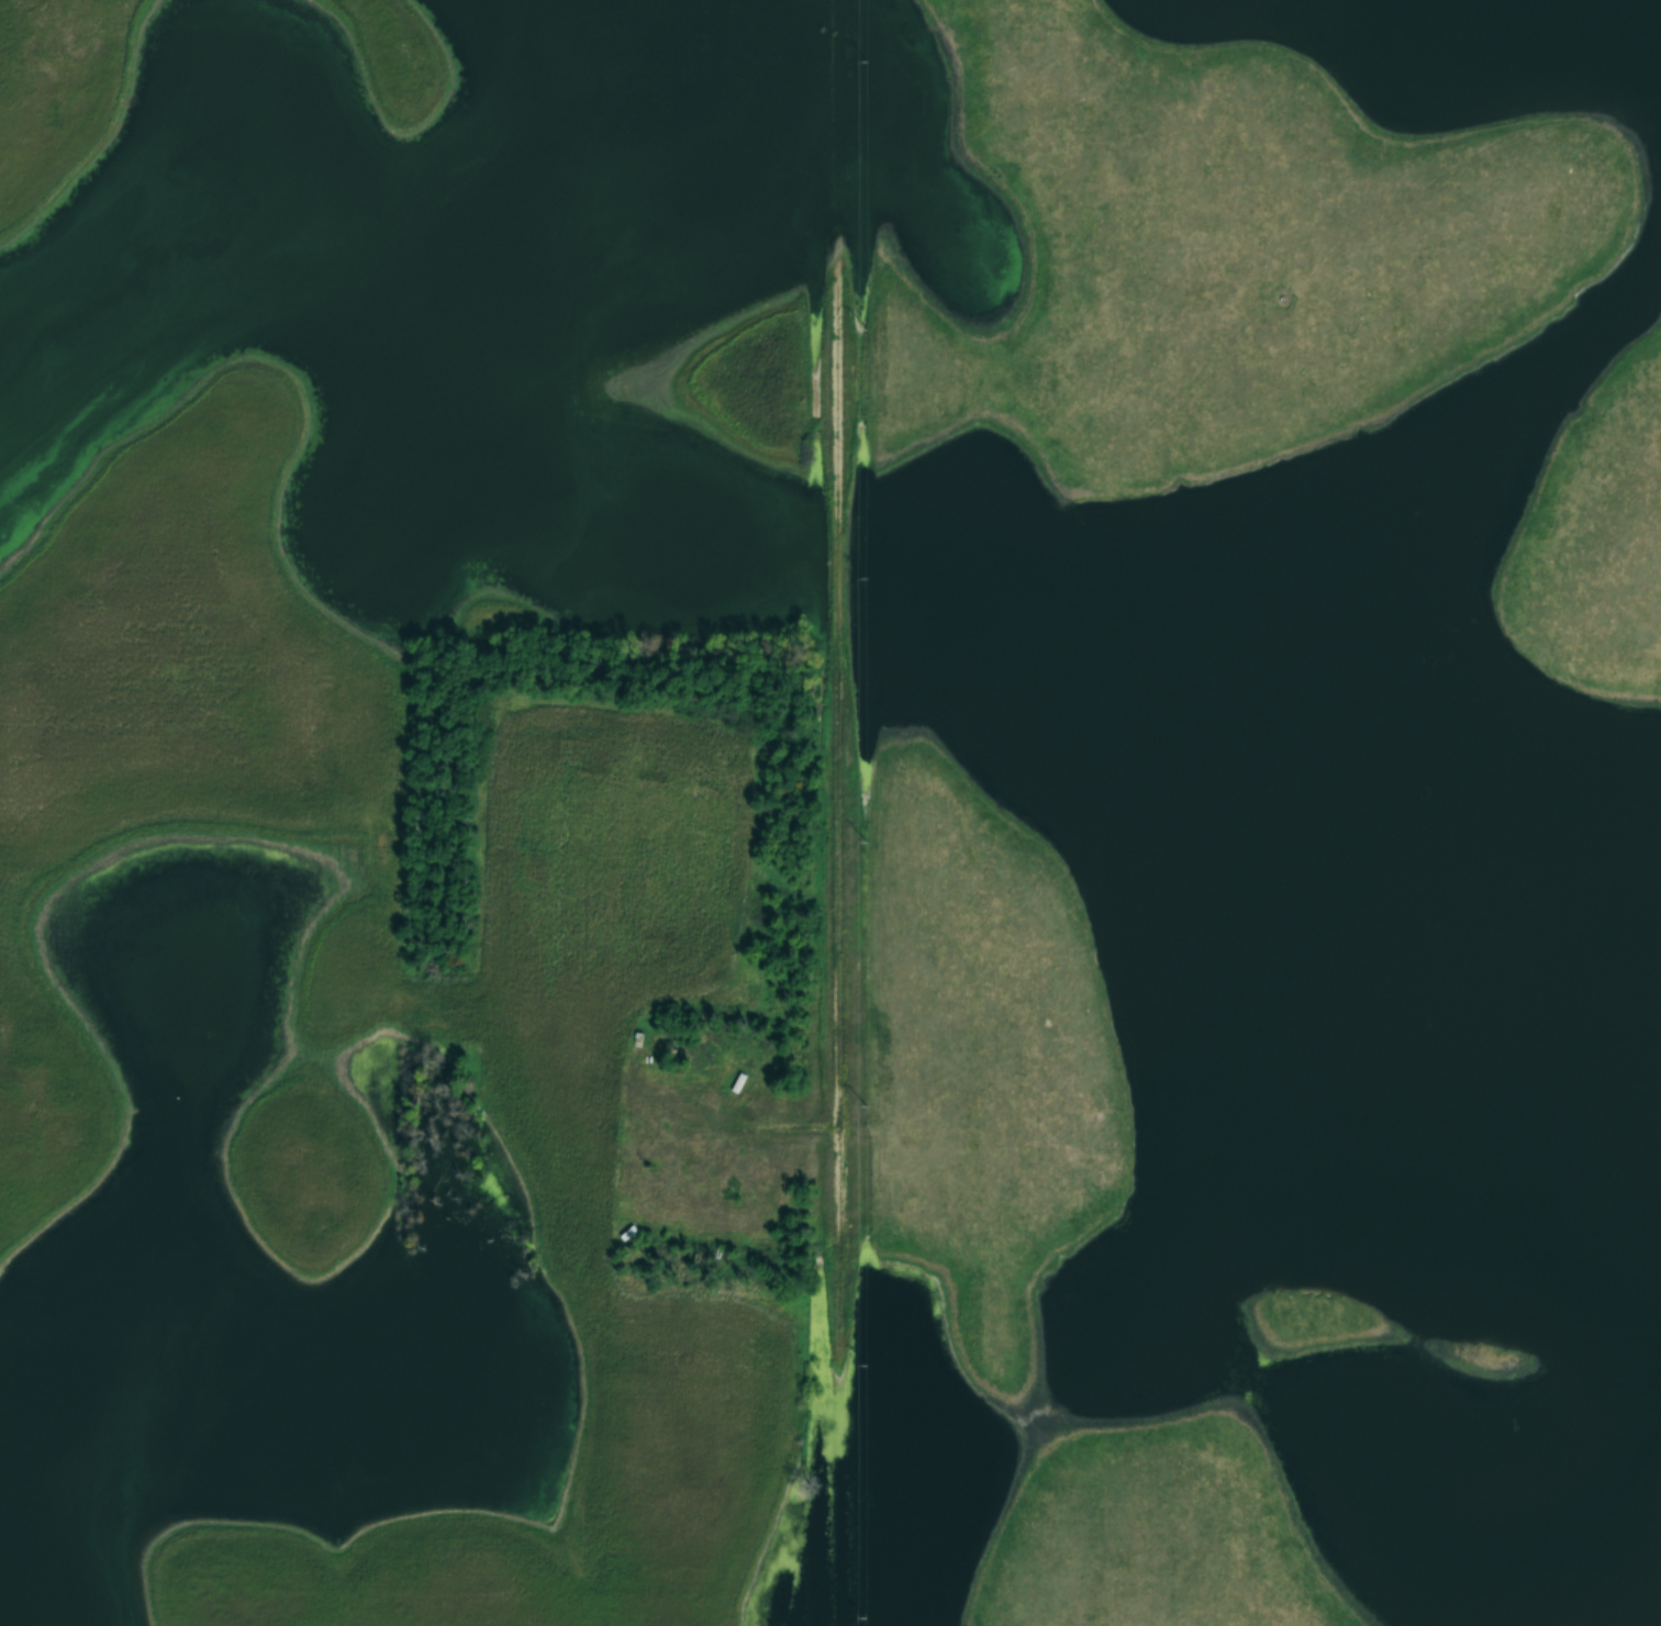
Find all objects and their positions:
road: (837, 813)

